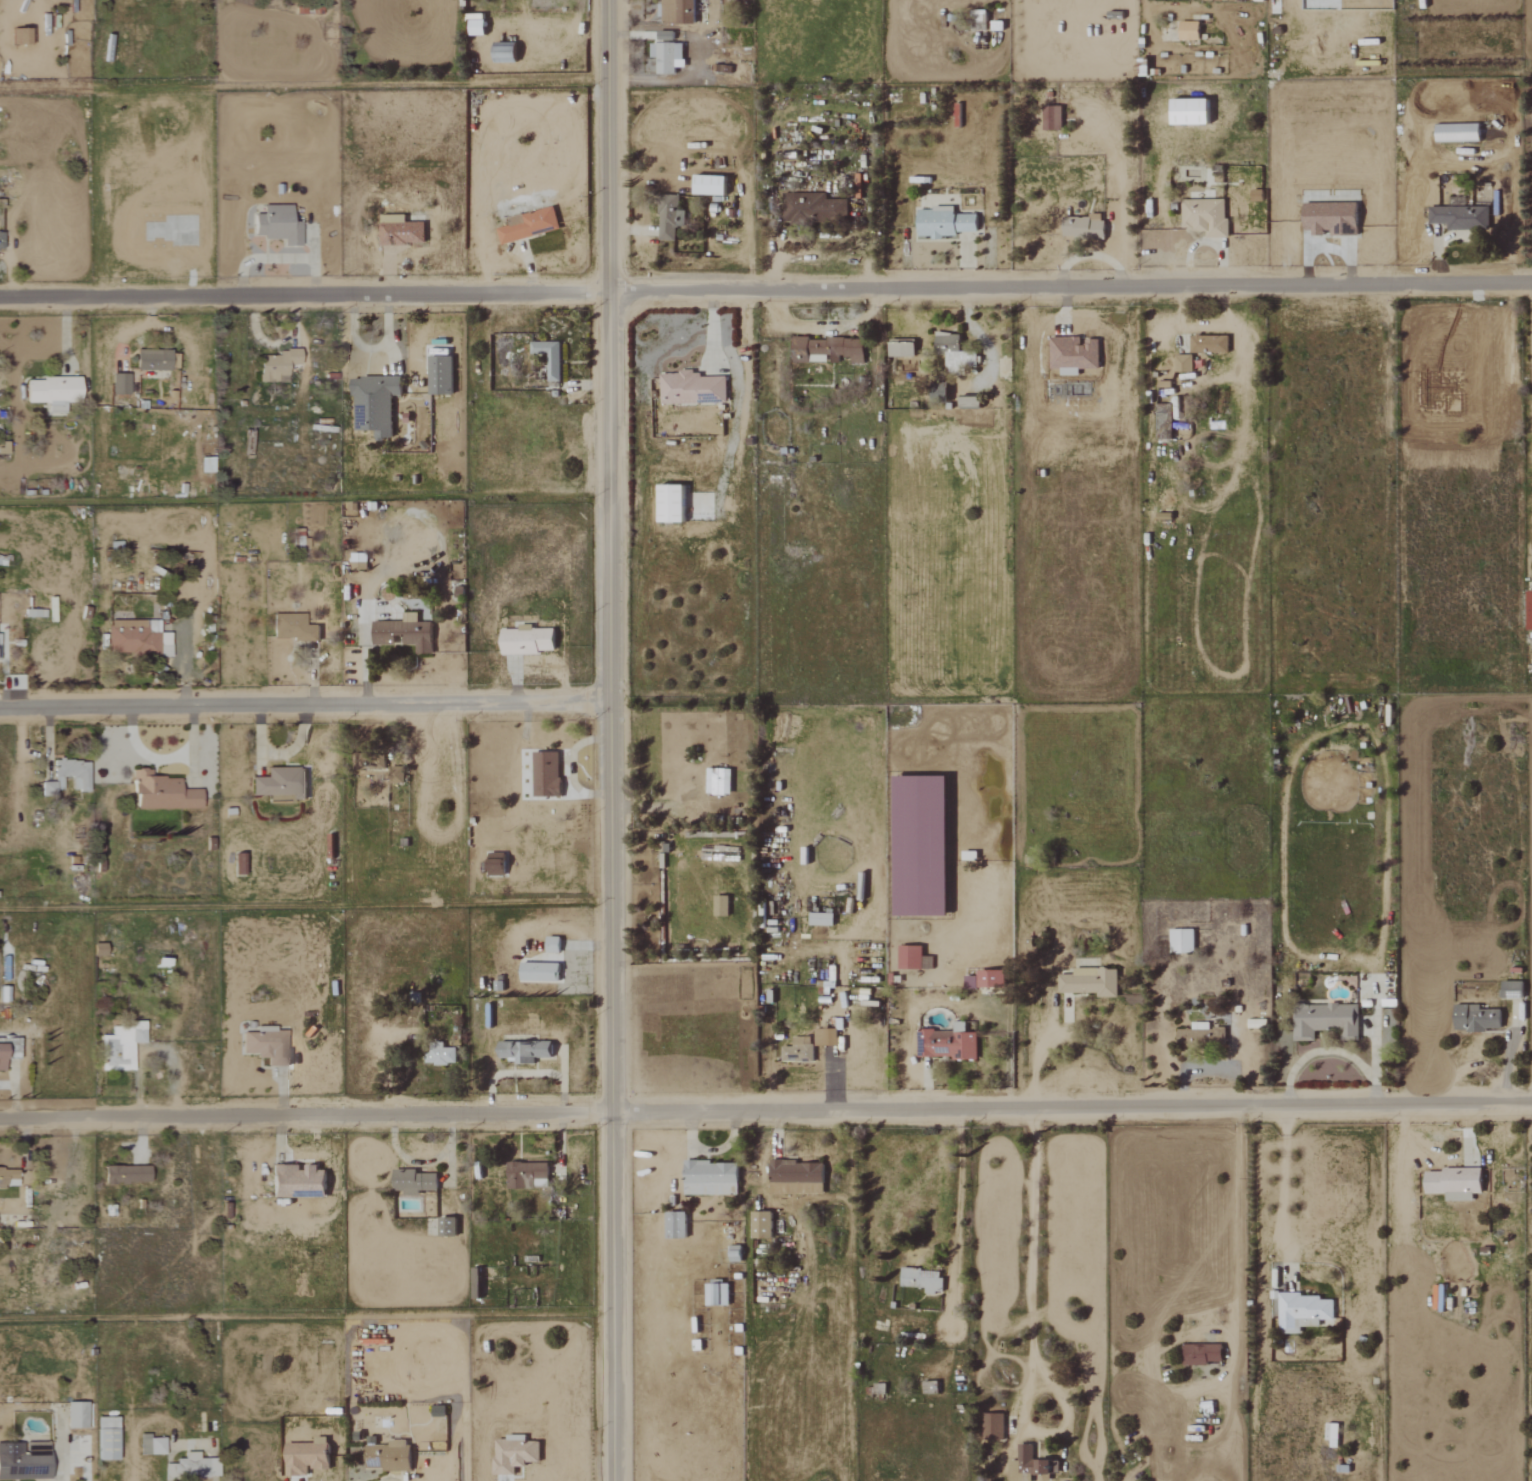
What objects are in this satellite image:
building: (677, 11)
building: (474, 26)
building: (1187, 30)
building: (16, 36)
building: (502, 52)
building: (665, 56)
building: (1187, 111)
building: (1051, 121)
building: (707, 184)
building: (812, 207)
building: (1204, 216)
building: (1459, 217)
building: (1329, 218)
building: (668, 222)
building: (943, 223)
building: (276, 225)
building: (527, 225)
building: (1082, 227)
building: (399, 231)
building: (0, 240)
road: (1069, 285)
road: (303, 293)
building: (1208, 344)
building: (900, 349)
building: (825, 350)
building: (953, 353)
building: (1072, 354)
building: (547, 357)
building: (154, 360)
building: (1182, 363)
building: (275, 365)
building: (439, 375)
building: (119, 384)
building: (690, 388)
building: (50, 392)
building: (968, 401)
building: (373, 403)
building: (1163, 421)
building: (205, 465)
building: (668, 503)
building: (357, 561)
building: (1528, 610)
building: (292, 628)
building: (403, 633)
building: (136, 638)
building: (525, 640)
road: (303, 702)
road: (607, 740)
building: (393, 774)
building: (544, 774)
building: (67, 776)
building: (717, 781)
building: (280, 785)
building: (160, 793)
road: (735, 797)
building: (494, 864)
building: (720, 905)
building: (819, 918)
building: (1180, 940)
building: (551, 944)
building: (912, 957)
building: (537, 971)
building: (989, 977)
building: (1093, 981)
building: (1511, 989)
building: (1475, 1017)
building: (1324, 1019)
building: (1199, 1034)
building: (825, 1037)
building: (119, 1045)
building: (266, 1045)
building: (8, 1049)
building: (797, 1049)
building: (523, 1050)
road: (1327, 1051)
building: (439, 1055)
road: (1035, 1059)
road: (1072, 1108)
road: (306, 1115)
building: (124, 1174)
building: (525, 1175)
building: (709, 1177)
building: (795, 1177)
building: (8, 1178)
building: (296, 1181)
building: (412, 1181)
building: (1452, 1183)
road: (1287, 1190)
building: (674, 1224)
building: (760, 1224)
building: (445, 1226)
road: (1046, 1242)
road: (1234, 1251)
building: (733, 1253)
building: (922, 1278)
building: (715, 1294)
building: (1302, 1310)
building: (1201, 1354)
building: (436, 1409)
building: (75, 1415)
building: (992, 1426)
building: (1331, 1435)
building: (104, 1438)
building: (150, 1445)
building: (512, 1453)
building: (304, 1456)
building: (387, 1456)
building: (23, 1461)
building: (1030, 1462)
building: (195, 1466)

